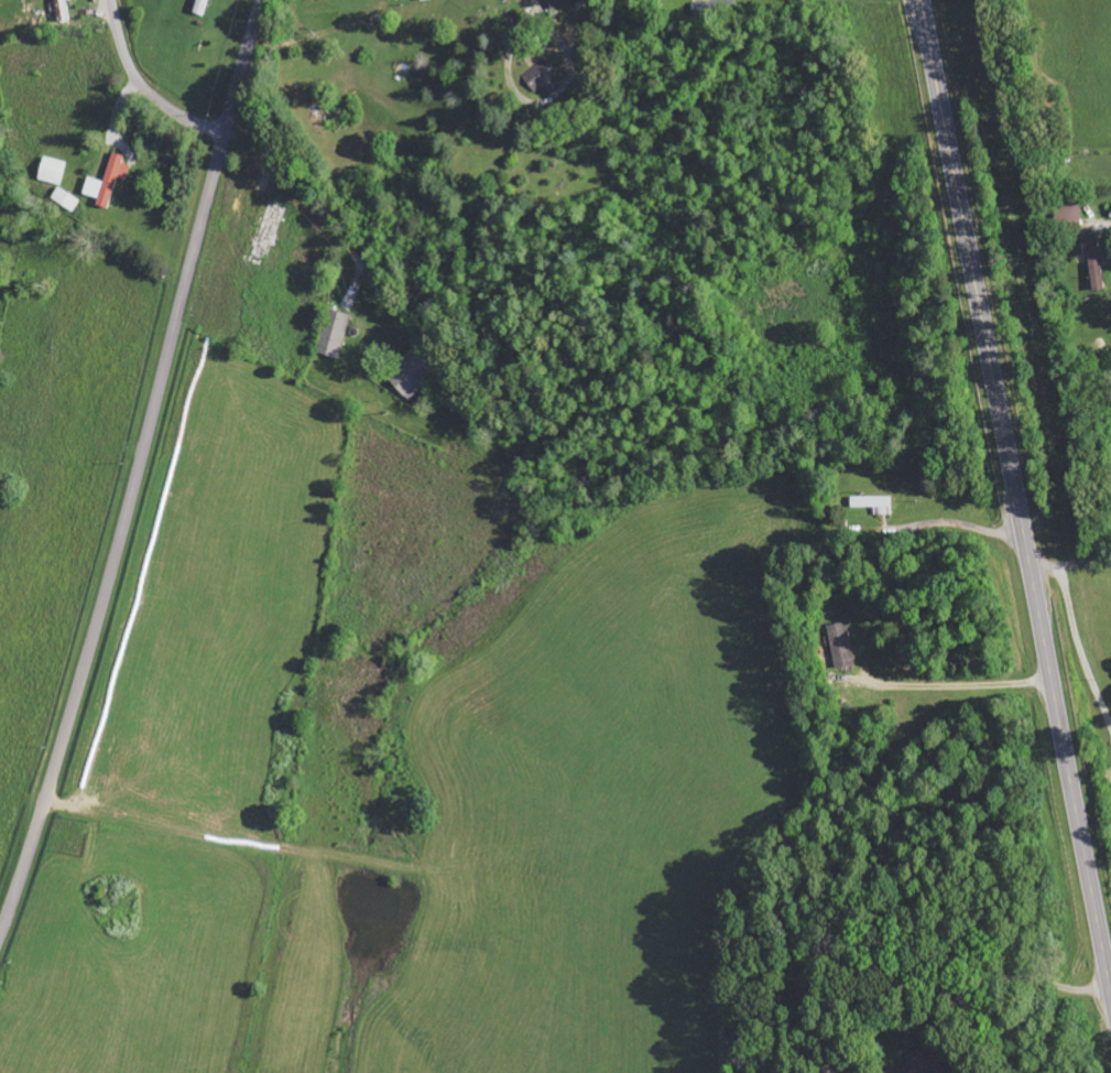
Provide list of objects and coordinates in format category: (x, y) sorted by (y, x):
building: (423, 0)
building: (556, 2)
building: (200, 7)
building: (707, 8)
building: (59, 10)
building: (541, 76)
road: (144, 86)
building: (51, 170)
building: (107, 181)
building: (65, 198)
building: (264, 230)
building: (1097, 259)
building: (334, 333)
road: (137, 466)
road: (1016, 494)
building: (873, 503)
building: (840, 644)
building: (923, 1064)

